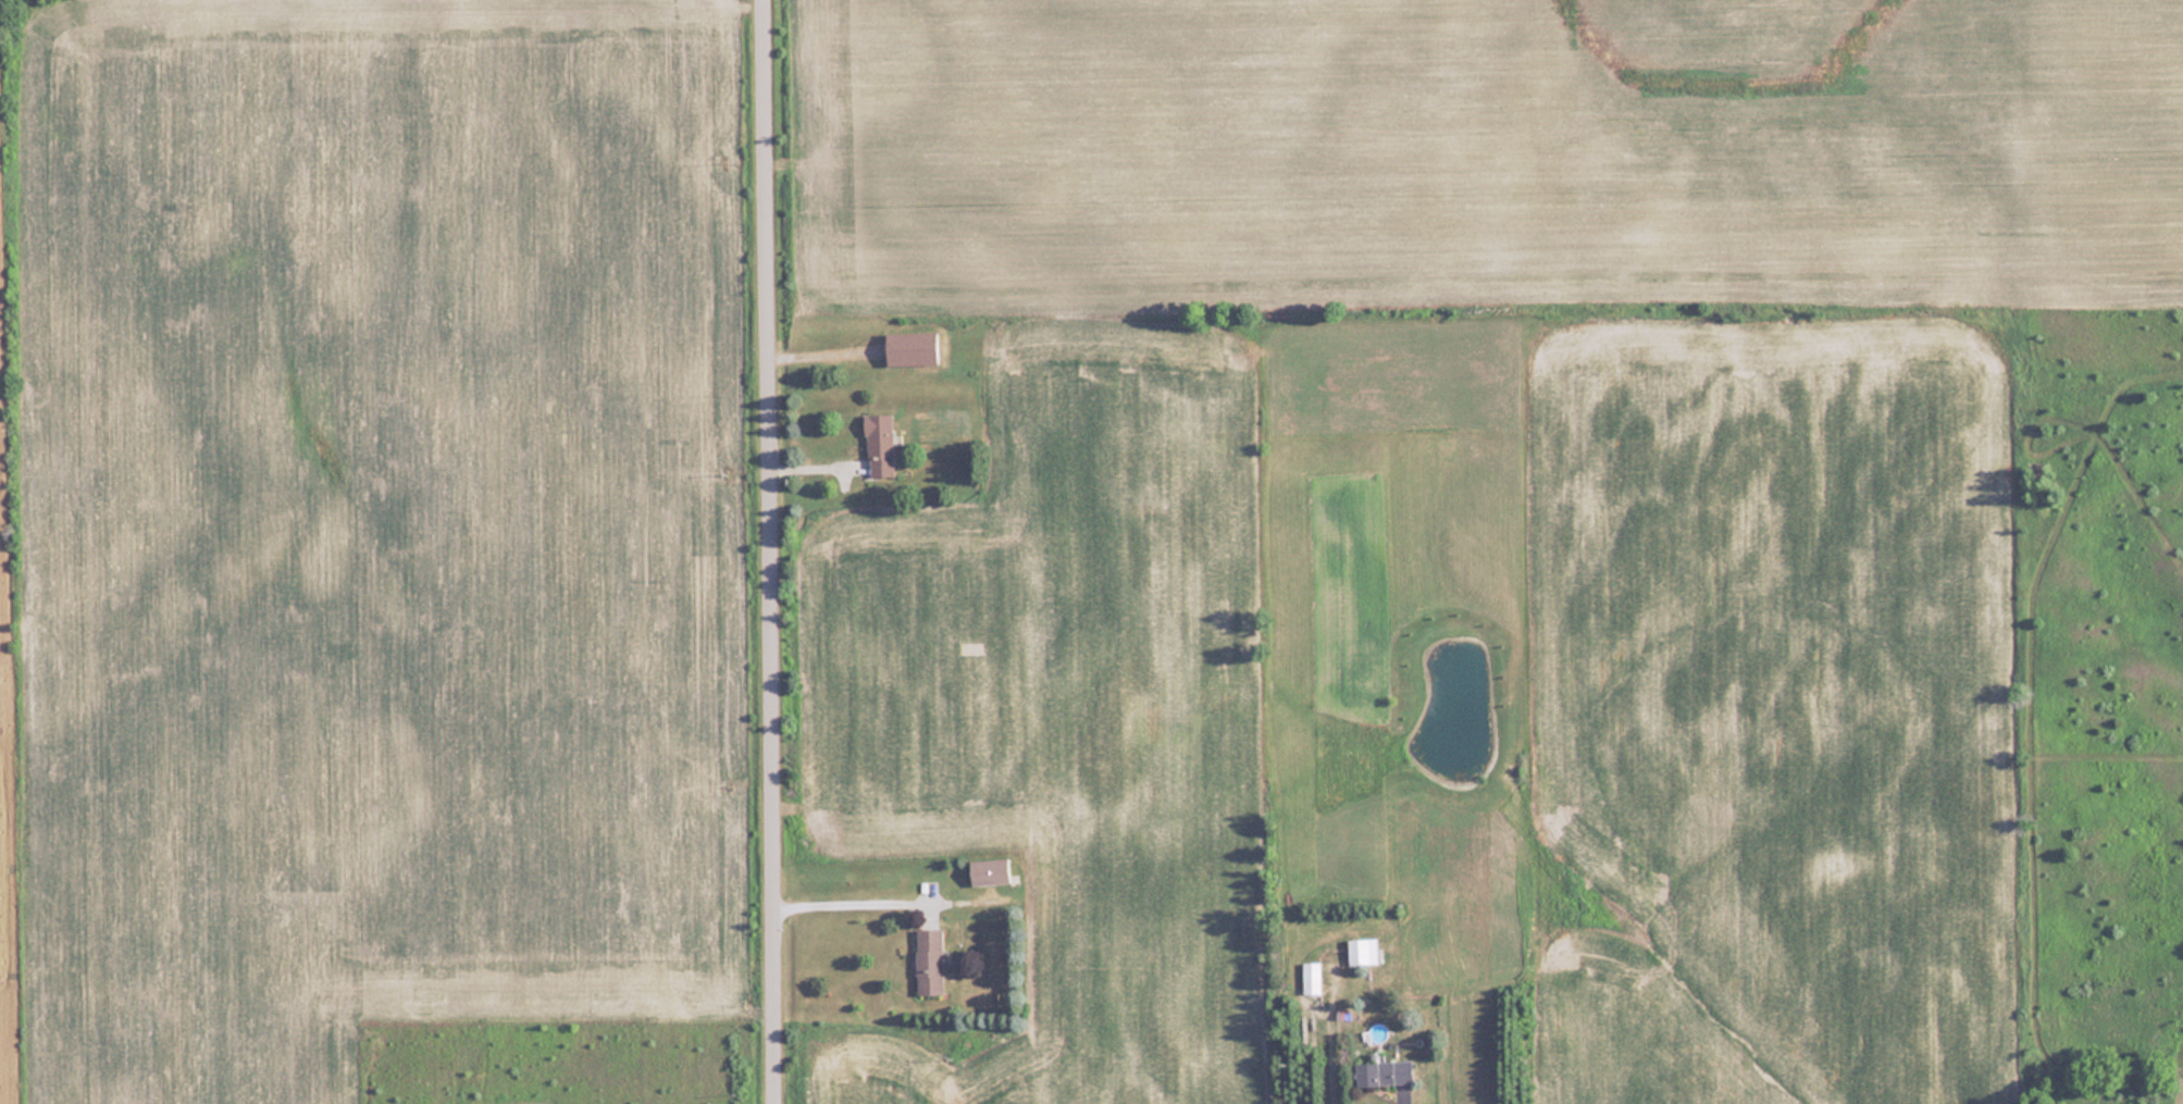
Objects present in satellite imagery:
building: (910, 348)
building: (879, 444)
road: (772, 551)
building: (990, 870)
road: (844, 903)
building: (1362, 951)
building: (929, 960)
building: (1312, 977)
building: (1384, 1072)
road: (1398, 1101)

